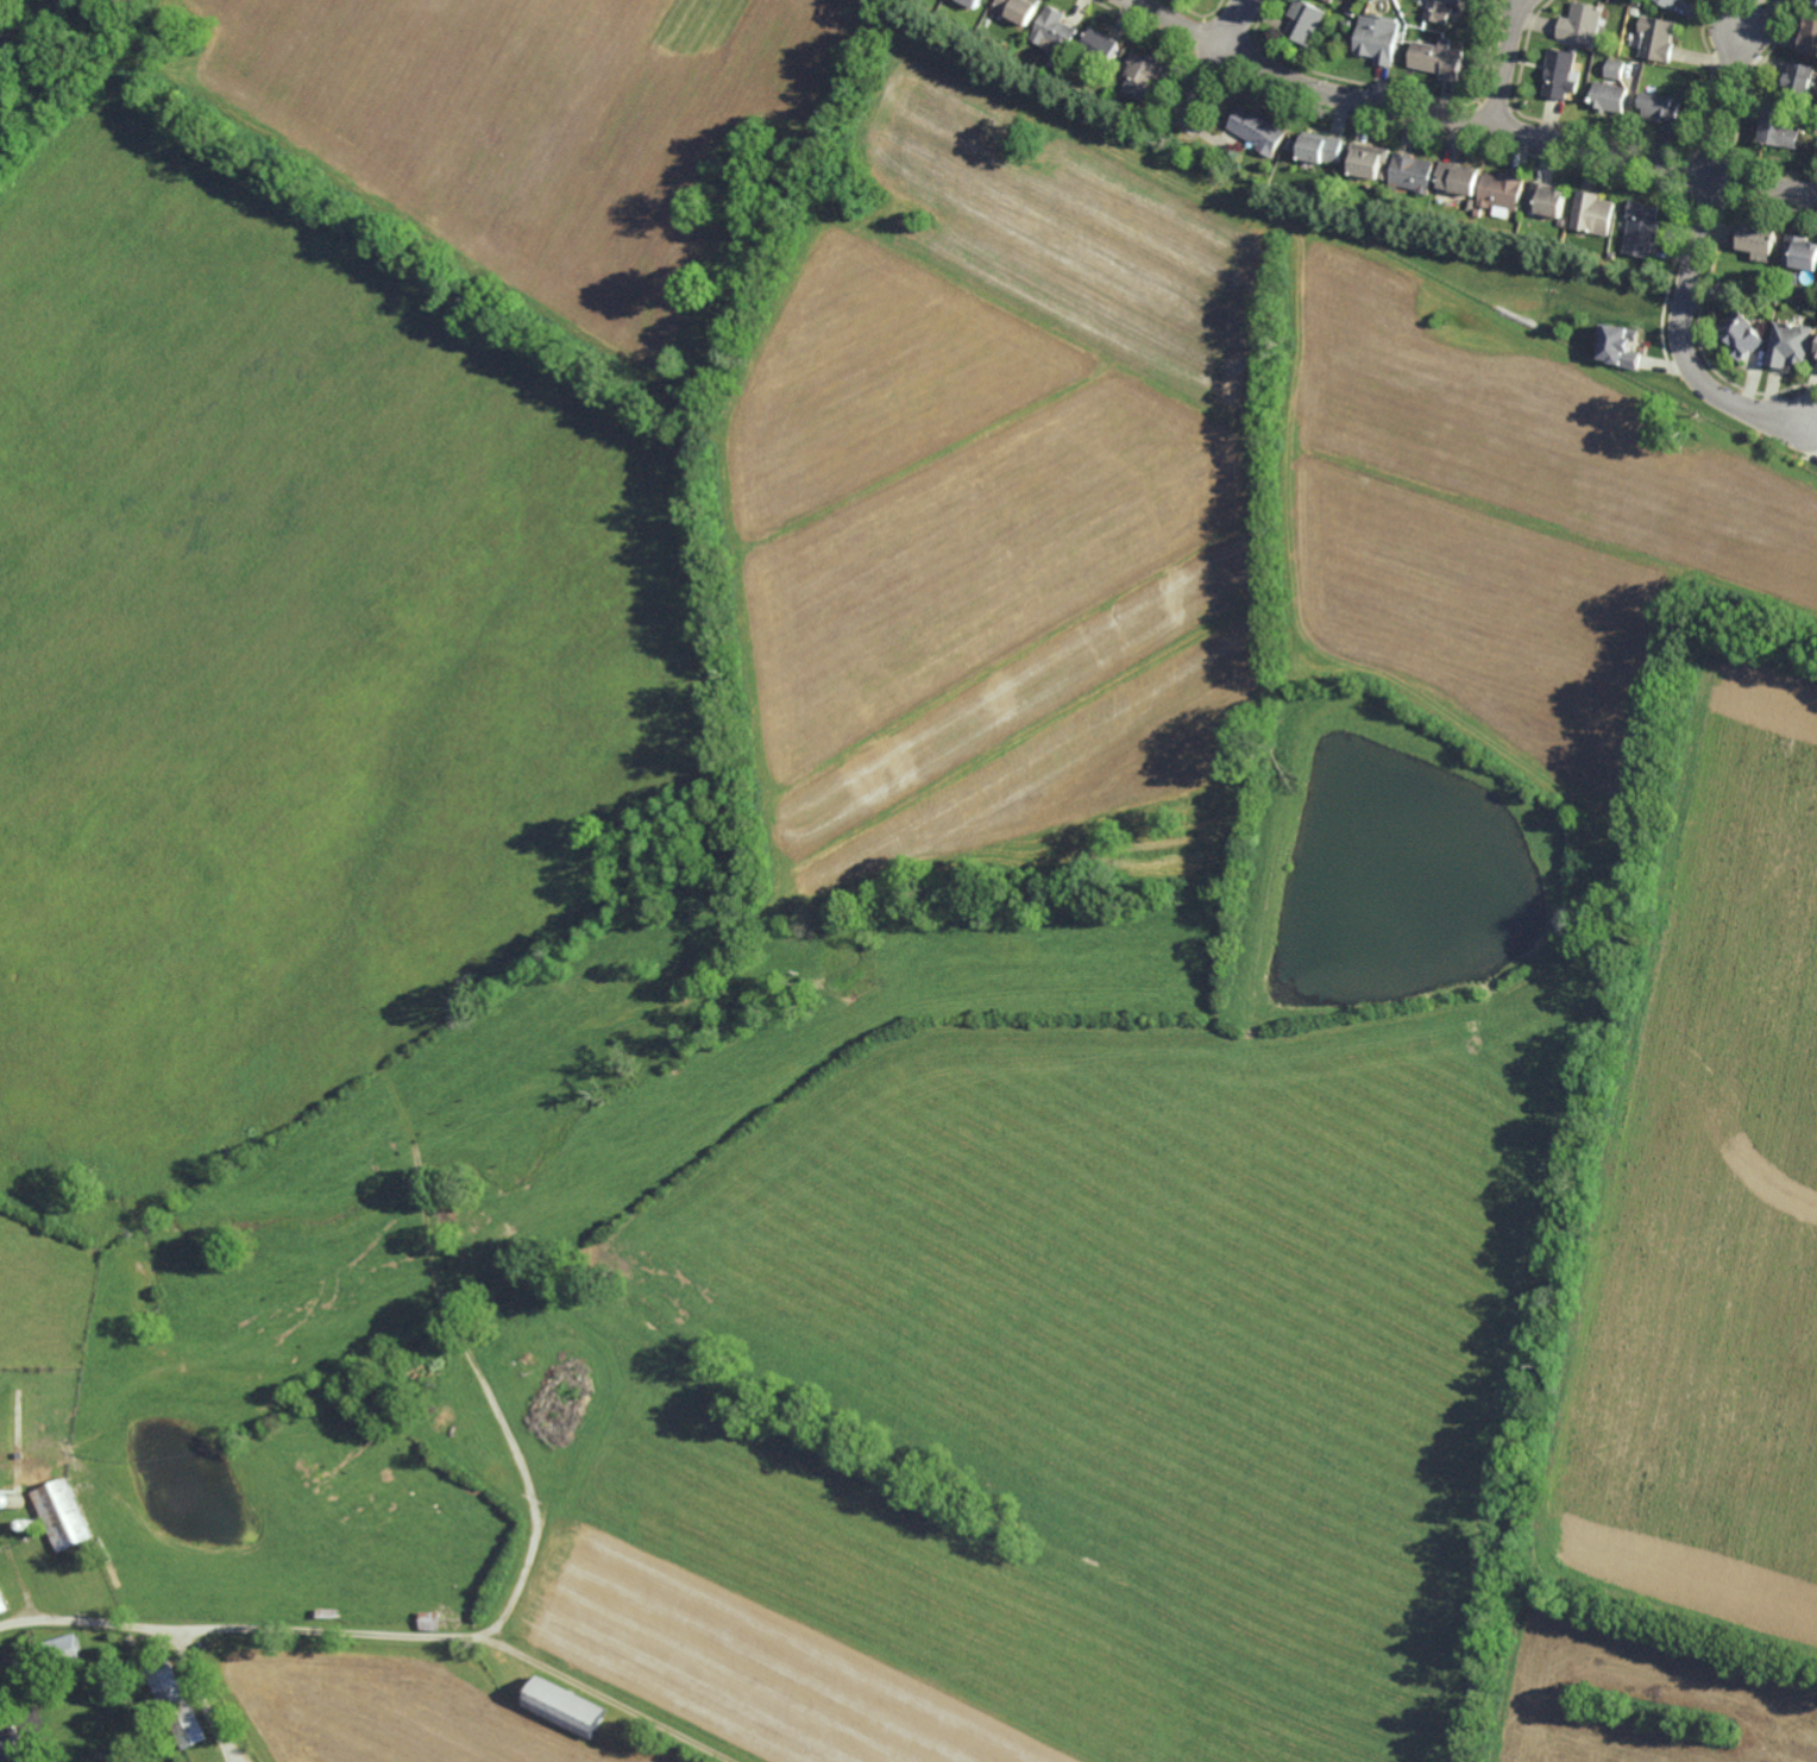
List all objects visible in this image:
building: (1331, 0)
building: (1681, 0)
building: (974, 2)
building: (1668, 2)
building: (1812, 2)
building: (1020, 8)
building: (1441, 10)
building: (1351, 11)
building: (1635, 11)
building: (1306, 20)
building: (1347, 23)
building: (1582, 23)
building: (1056, 30)
building: (1810, 36)
building: (1658, 37)
building: (1378, 40)
building: (1101, 44)
building: (1439, 56)
road: (1213, 63)
road: (1504, 63)
building: (1616, 68)
building: (1560, 73)
building: (1142, 74)
building: (1799, 78)
building: (1610, 95)
building: (1661, 105)
road: (1465, 121)
building: (1779, 126)
building: (1258, 128)
building: (1320, 146)
building: (1365, 158)
building: (1383, 172)
building: (1410, 172)
building: (1458, 176)
building: (1501, 189)
building: (1346, 194)
building: (1545, 199)
building: (1470, 202)
building: (1592, 213)
building: (1642, 227)
building: (1559, 232)
building: (1758, 239)
building: (1604, 240)
building: (1800, 251)
road: (1693, 260)
building: (1742, 334)
building: (1791, 342)
building: (1620, 345)
building: (1816, 353)
building: (63, 1514)
road: (381, 1634)
building: (62, 1649)
road: (200, 1698)
building: (176, 1701)
building: (566, 1706)
building: (10, 1747)

